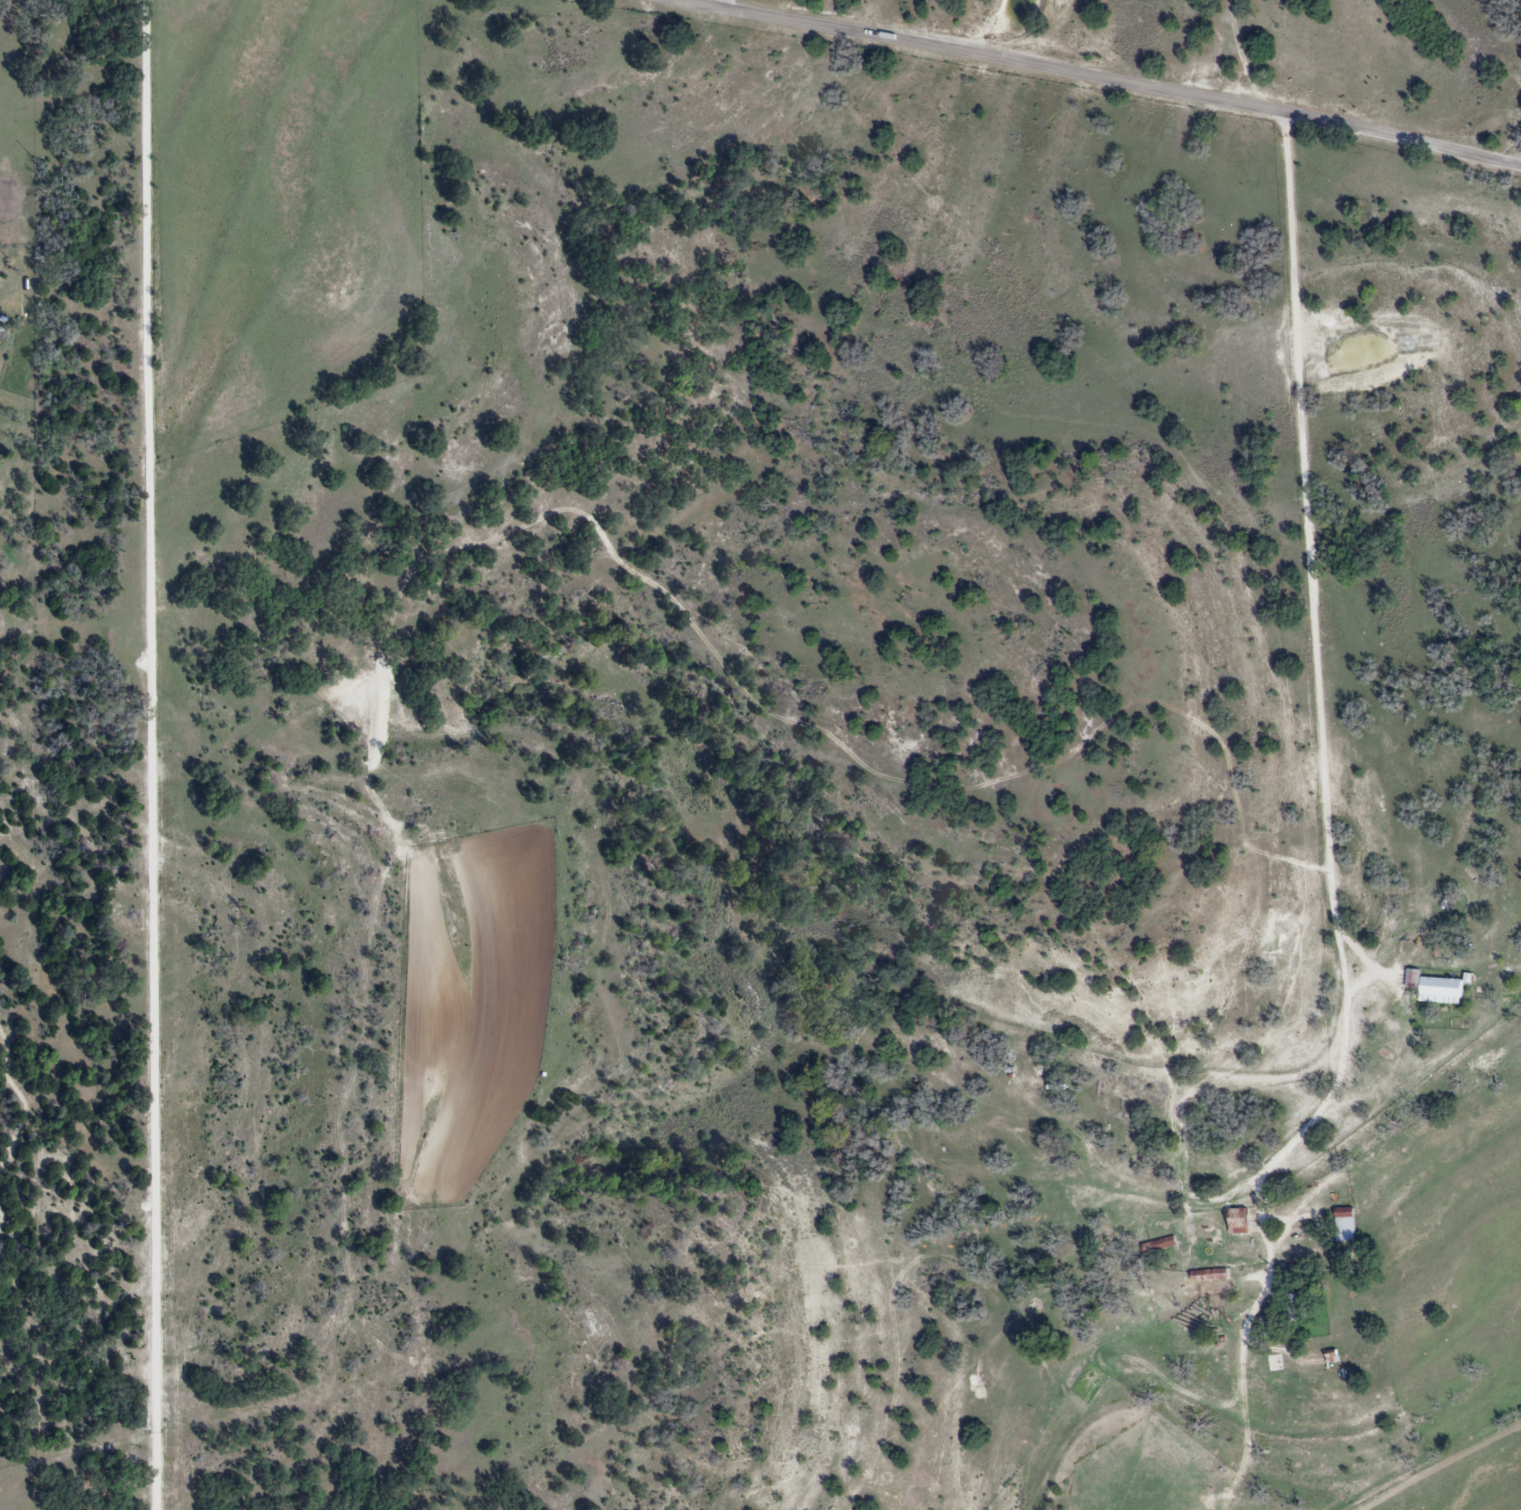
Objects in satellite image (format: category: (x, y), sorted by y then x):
road: (1110, 78)
road: (151, 754)
building: (1432, 988)
building: (1237, 1223)
building: (1344, 1227)
building: (1160, 1246)
building: (1297, 1308)

